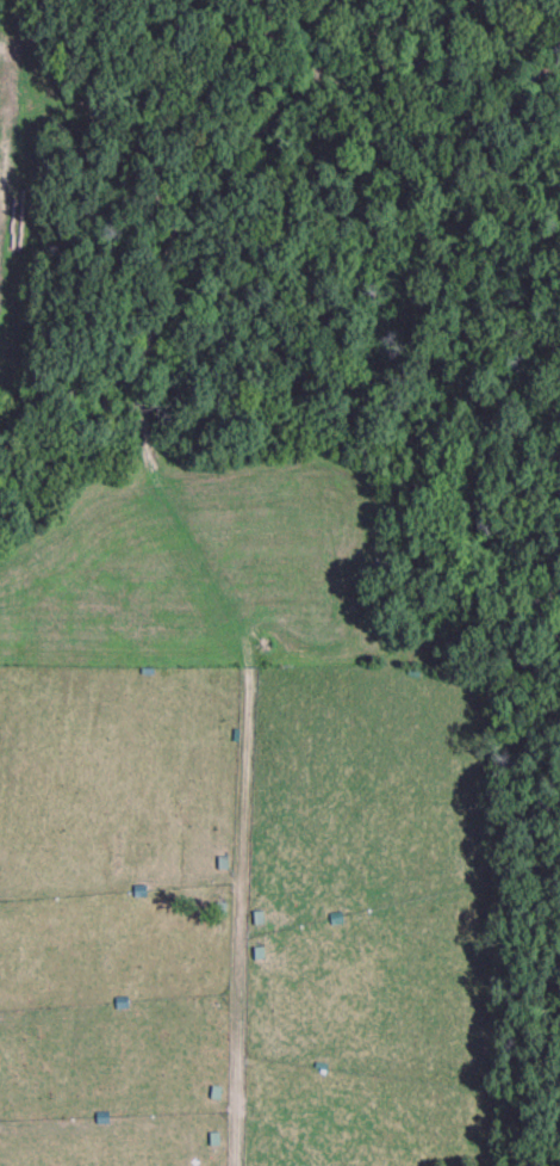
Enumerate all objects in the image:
road: (236, 930)

